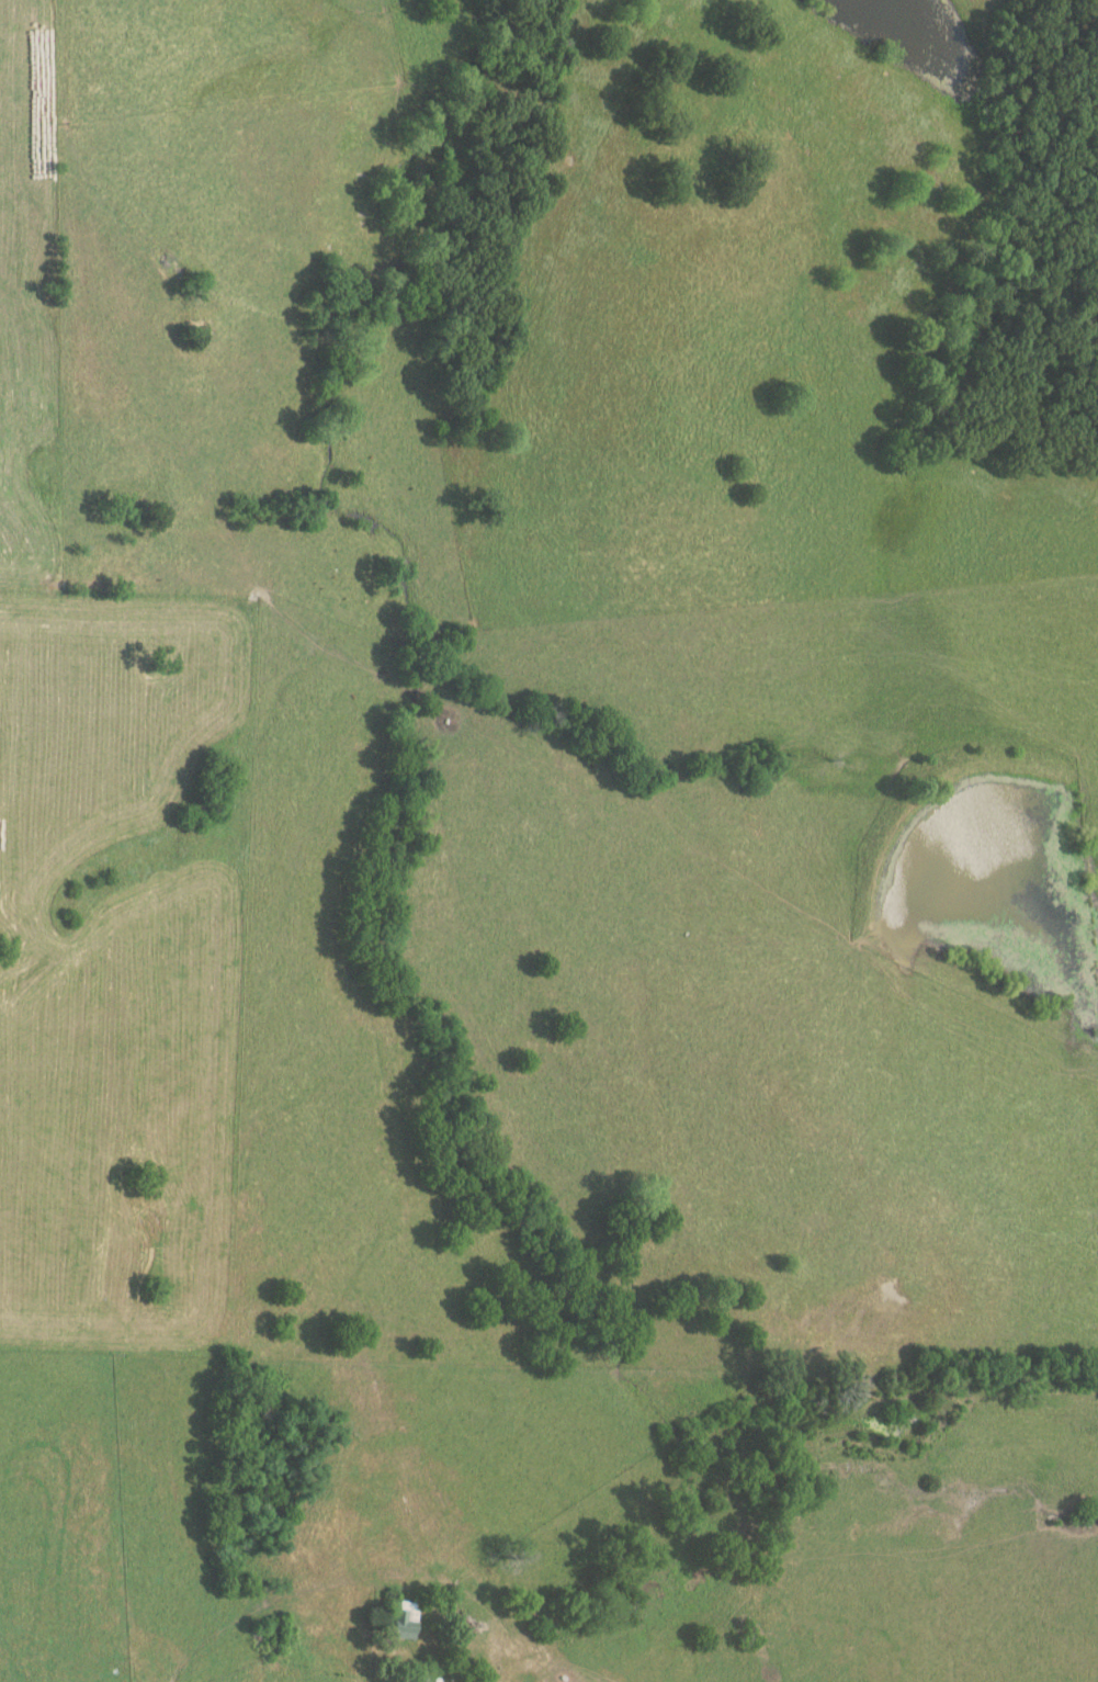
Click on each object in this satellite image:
building: (401, 1621)

